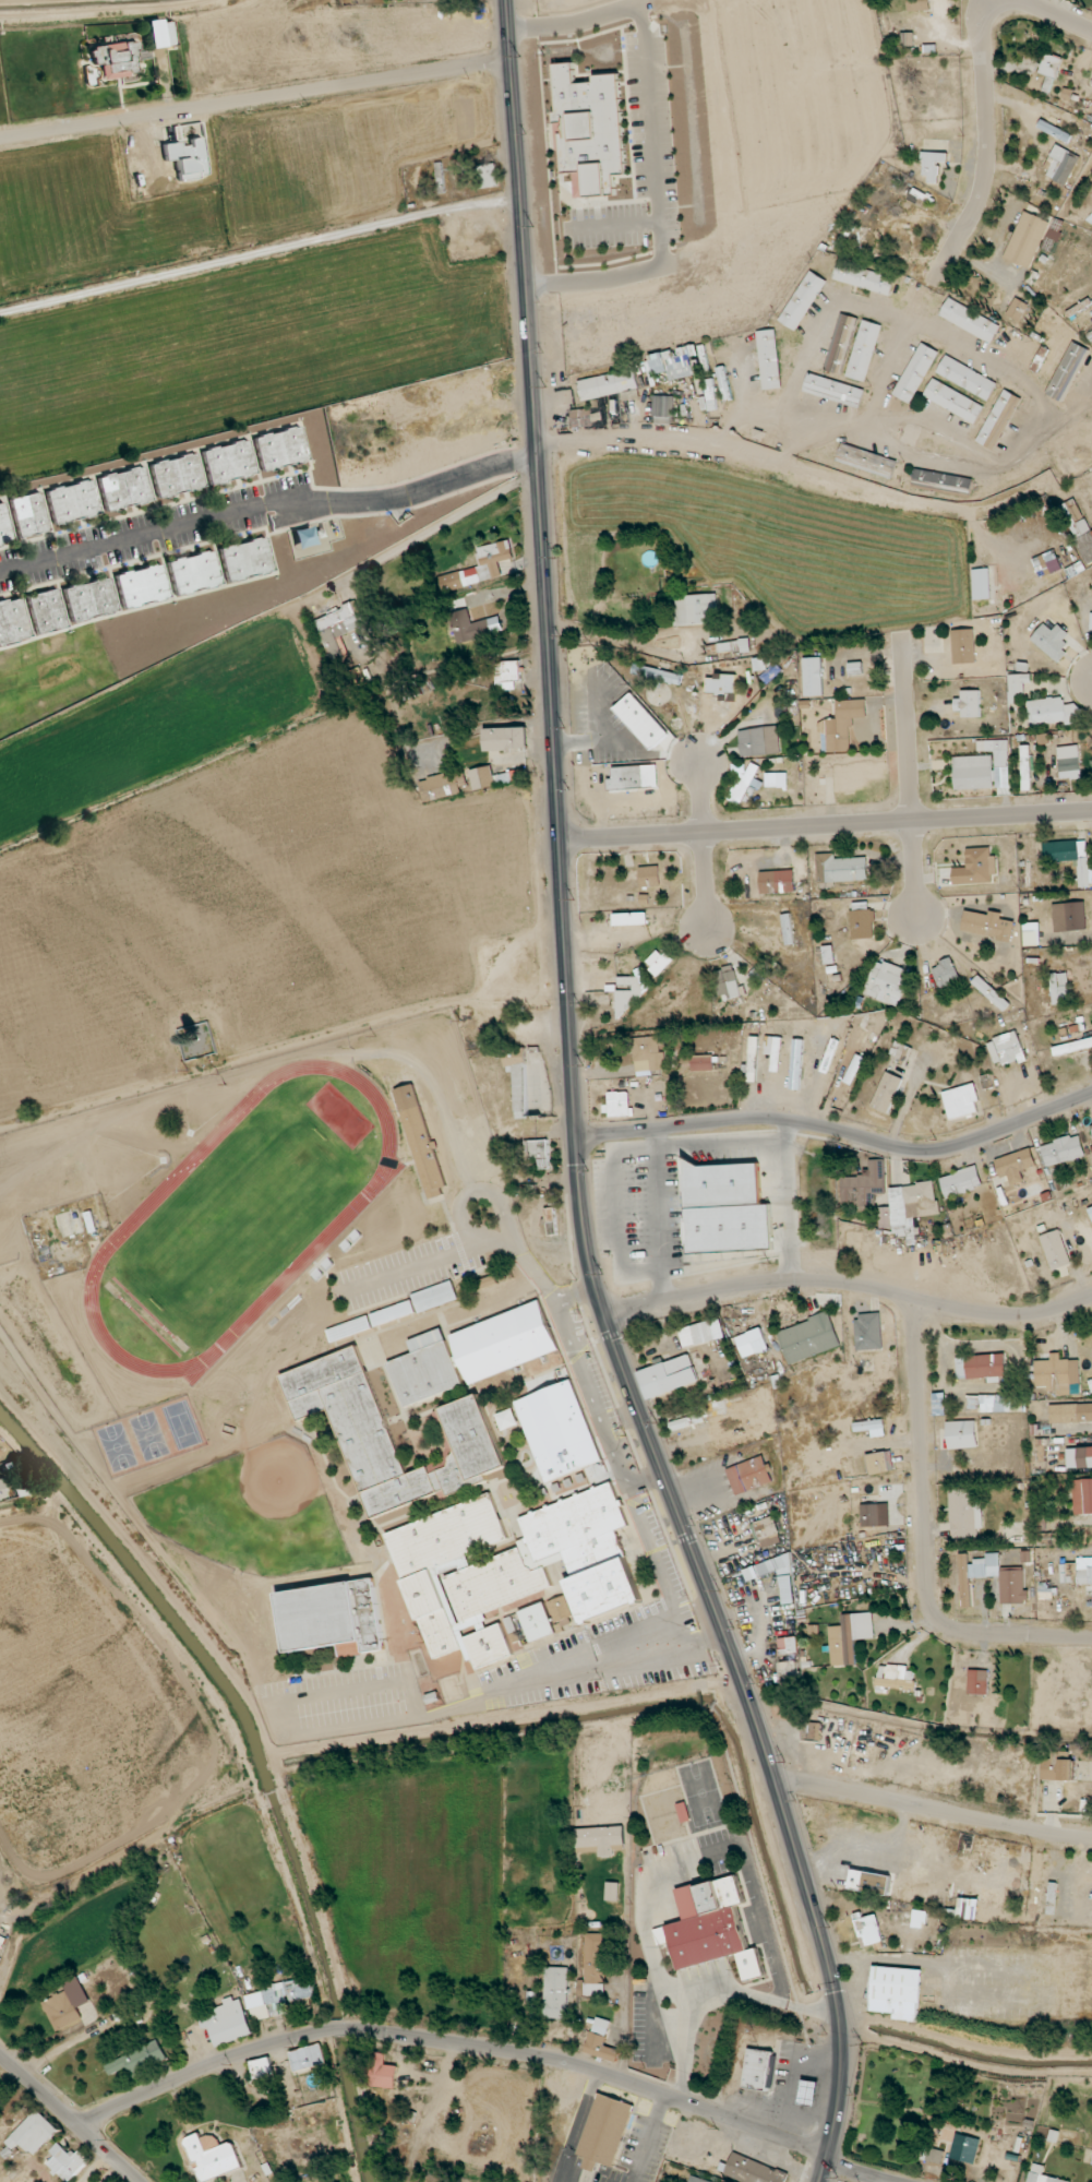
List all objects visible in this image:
building: (917, 5)
road: (124, 9)
road: (1061, 14)
building: (160, 33)
building: (907, 38)
building: (116, 60)
building: (1049, 67)
road: (255, 103)
building: (587, 126)
building: (1054, 131)
road: (655, 136)
building: (1060, 164)
building: (932, 165)
building: (488, 175)
building: (1059, 189)
building: (921, 199)
building: (1055, 231)
building: (842, 238)
building: (1027, 239)
road: (950, 247)
building: (863, 277)
building: (802, 300)
building: (1017, 309)
building: (970, 320)
building: (840, 344)
building: (863, 350)
building: (768, 359)
building: (673, 361)
building: (1067, 371)
building: (915, 372)
building: (698, 377)
building: (967, 378)
building: (611, 386)
building: (724, 386)
building: (833, 390)
building: (710, 394)
building: (952, 401)
building: (662, 409)
building: (586, 417)
building: (997, 419)
building: (280, 449)
building: (866, 461)
building: (228, 462)
building: (177, 475)
road: (809, 478)
building: (943, 479)
building: (124, 489)
building: (72, 502)
road: (268, 510)
building: (29, 514)
road: (442, 524)
building: (4, 526)
building: (1079, 528)
building: (245, 560)
building: (1046, 563)
building: (481, 567)
building: (194, 573)
building: (981, 584)
building: (142, 586)
building: (91, 599)
building: (697, 609)
building: (47, 611)
building: (12, 621)
building: (338, 622)
building: (1091, 623)
building: (473, 627)
road: (554, 631)
building: (1051, 641)
road: (616, 643)
building: (733, 646)
building: (963, 646)
building: (759, 664)
building: (854, 667)
building: (506, 675)
building: (657, 675)
building: (813, 677)
building: (1018, 687)
building: (732, 700)
building: (968, 703)
building: (1053, 712)
building: (641, 720)
building: (841, 726)
road: (603, 738)
building: (505, 739)
building: (758, 741)
building: (1069, 762)
building: (1025, 767)
building: (984, 768)
building: (482, 777)
building: (626, 778)
building: (770, 779)
building: (742, 785)
building: (441, 786)
road: (913, 789)
road: (825, 825)
road: (703, 846)
building: (1069, 857)
building: (976, 868)
building: (839, 870)
building: (649, 875)
building: (777, 882)
building: (1069, 916)
building: (629, 918)
building: (862, 921)
building: (986, 925)
building: (788, 929)
building: (1031, 933)
building: (828, 955)
building: (945, 973)
building: (641, 977)
building: (727, 982)
building: (886, 982)
building: (1059, 987)
building: (991, 992)
building: (1072, 1047)
building: (1006, 1049)
building: (773, 1051)
building: (901, 1053)
building: (648, 1054)
building: (752, 1059)
building: (701, 1062)
building: (796, 1064)
building: (853, 1069)
building: (517, 1078)
building: (886, 1093)
building: (961, 1101)
building: (619, 1104)
road: (574, 1112)
building: (1091, 1128)
road: (839, 1131)
building: (420, 1141)
building: (1063, 1150)
building: (538, 1153)
building: (1018, 1167)
building: (961, 1182)
building: (720, 1184)
building: (864, 1185)
road: (788, 1199)
building: (912, 1207)
building: (1090, 1212)
road: (663, 1213)
building: (885, 1217)
building: (551, 1221)
building: (728, 1227)
building: (1055, 1250)
building: (506, 1275)
road: (848, 1281)
building: (485, 1283)
road: (575, 1292)
building: (435, 1297)
building: (393, 1313)
building: (349, 1328)
building: (869, 1331)
building: (700, 1333)
building: (808, 1338)
building: (745, 1345)
building: (472, 1354)
road: (578, 1354)
building: (981, 1366)
building: (1054, 1374)
building: (668, 1376)
building: (992, 1403)
building: (1070, 1412)
building: (506, 1420)
building: (685, 1422)
building: (871, 1427)
building: (559, 1431)
building: (961, 1434)
building: (469, 1440)
building: (1041, 1452)
building: (1079, 1457)
building: (879, 1463)
road: (721, 1469)
building: (752, 1478)
building: (3, 1490)
building: (1082, 1495)
building: (964, 1514)
building: (869, 1515)
building: (1041, 1523)
building: (768, 1531)
road: (923, 1539)
building: (1044, 1539)
building: (509, 1567)
building: (1077, 1571)
building: (1012, 1583)
building: (788, 1589)
building: (1046, 1591)
building: (561, 1612)
building: (334, 1617)
building: (538, 1622)
building: (849, 1636)
building: (515, 1641)
building: (788, 1645)
building: (788, 1657)
building: (790, 1677)
building: (895, 1677)
building: (977, 1682)
road: (409, 1718)
building: (1057, 1769)
road: (933, 1811)
building: (601, 1839)
building: (869, 1882)
building: (612, 1892)
building: (968, 1908)
building: (711, 1928)
building: (867, 1928)
building: (593, 1965)
road: (718, 1991)
building: (555, 1992)
building: (895, 1994)
building: (277, 1999)
building: (62, 2010)
building: (227, 2022)
building: (601, 2041)
road: (492, 2049)
building: (308, 2056)
building: (140, 2060)
building: (261, 2067)
building: (756, 2068)
building: (382, 2072)
road: (796, 2075)
building: (808, 2092)
road: (68, 2119)
building: (605, 2132)
building: (33, 2133)
building: (964, 2147)
building: (932, 2155)
building: (213, 2157)
building: (65, 2162)
road: (93, 2168)
building: (753, 2170)
building: (1041, 2175)
building: (696, 2180)

